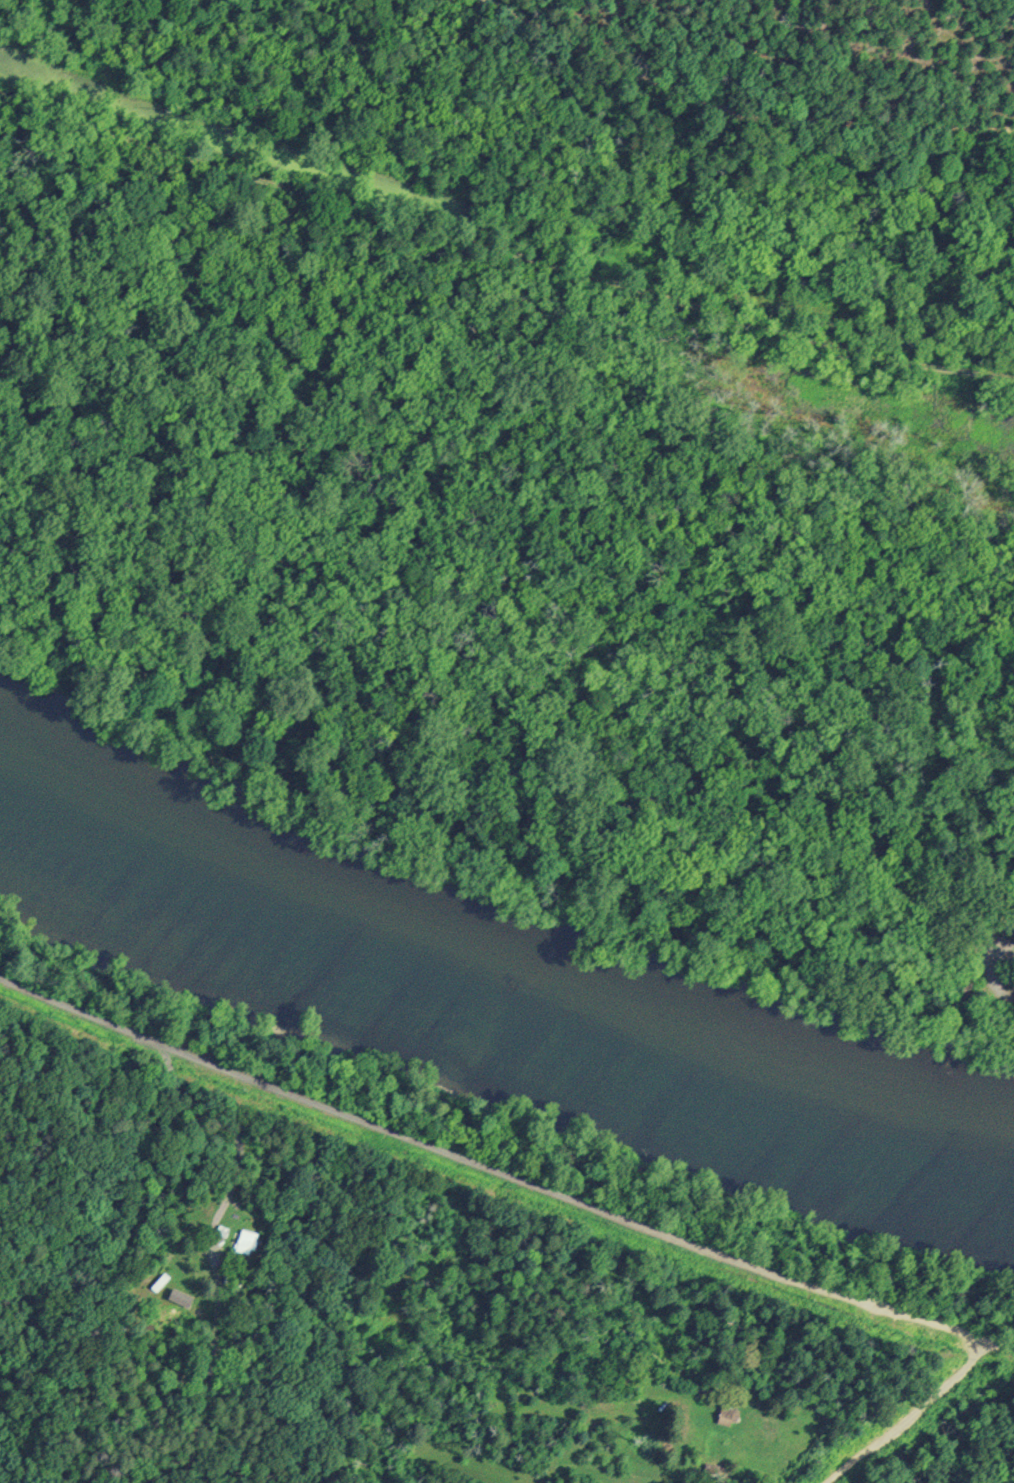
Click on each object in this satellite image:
road: (738, 113)
road: (502, 253)
road: (875, 927)
building: (1009, 929)
parking lot: (998, 955)
road: (967, 984)
river: (501, 995)
road: (504, 1172)
building: (246, 1242)
road: (211, 1371)
building: (730, 1415)
road: (913, 1416)

